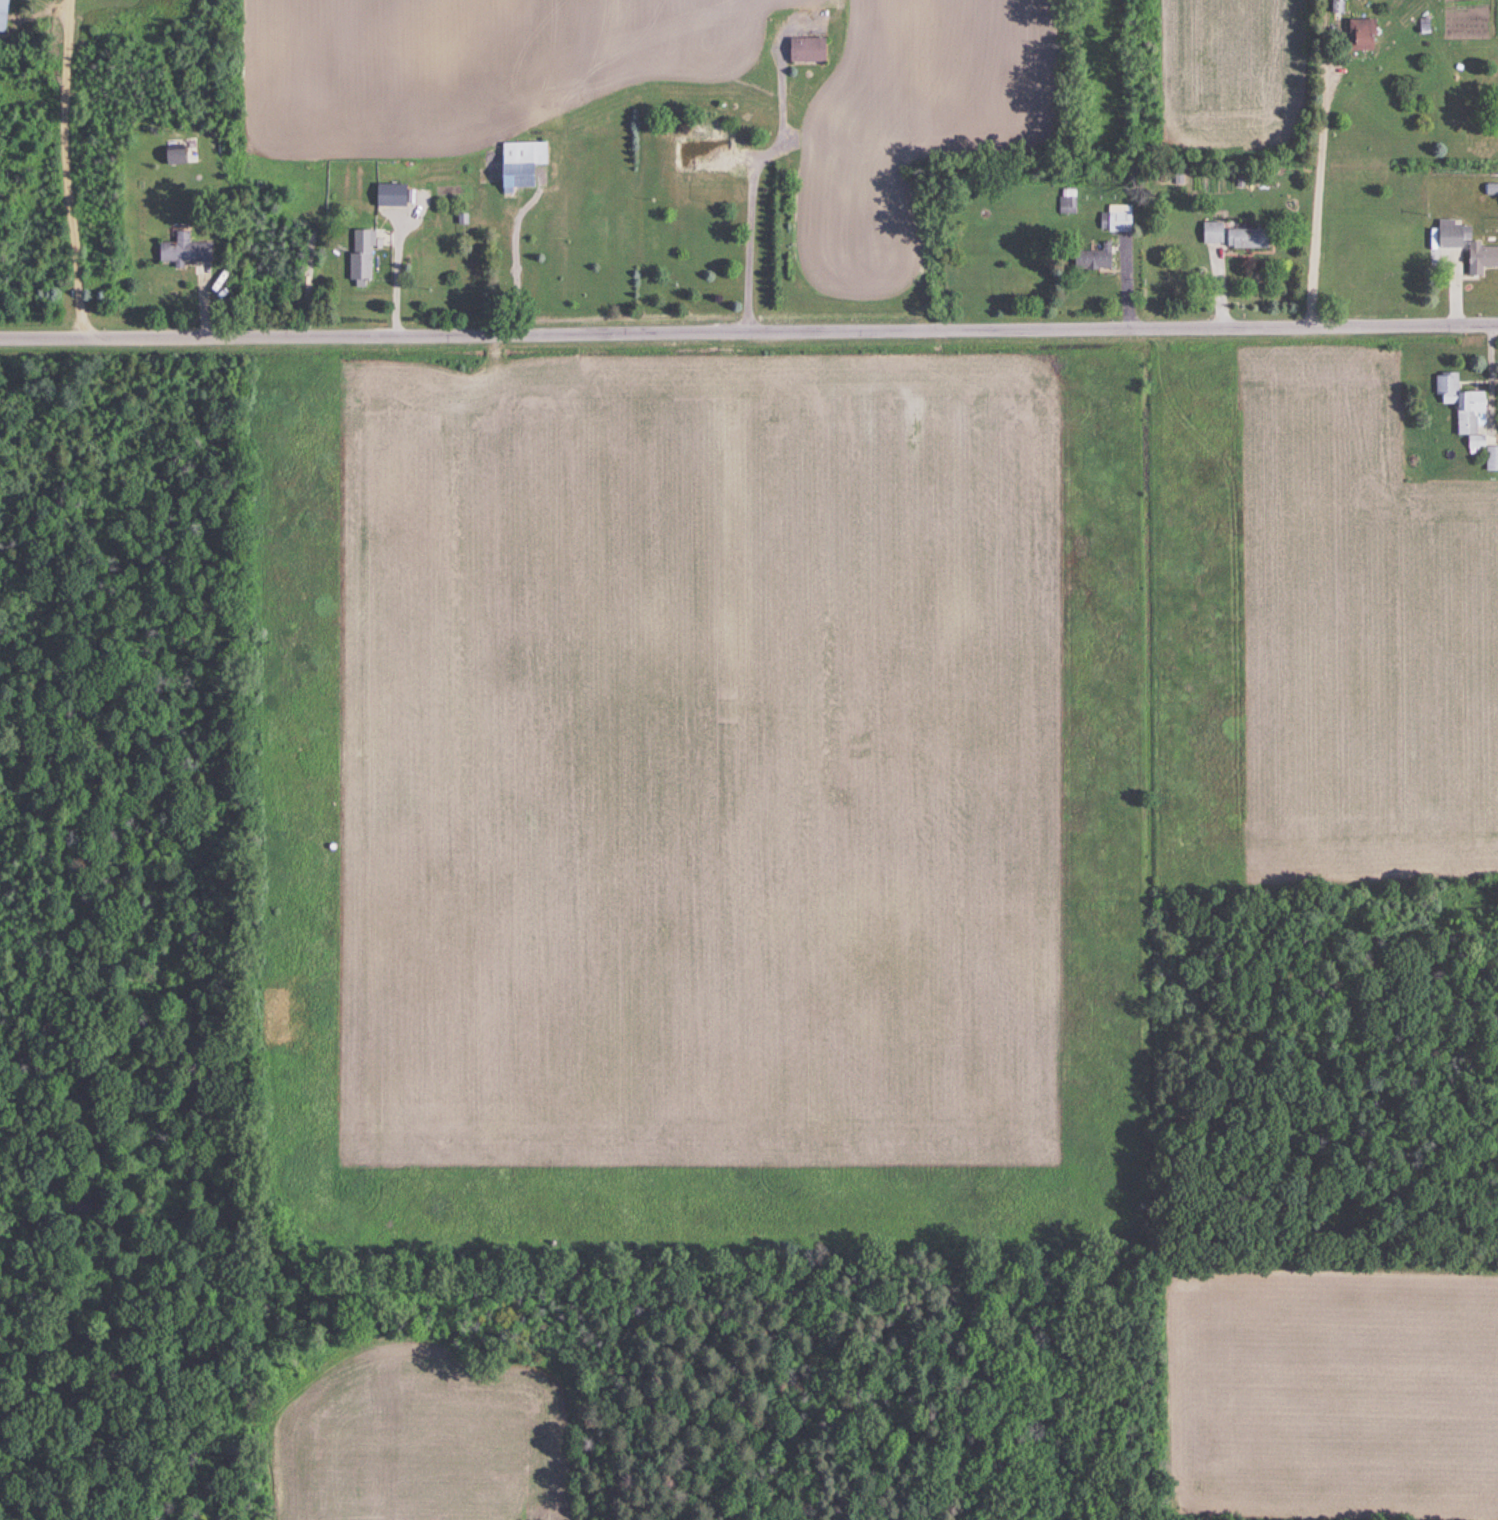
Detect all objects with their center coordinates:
building: (2, 14)
building: (1359, 34)
building: (806, 49)
building: (700, 152)
building: (522, 164)
road: (57, 167)
building: (390, 194)
road: (1312, 198)
building: (1067, 201)
building: (1118, 218)
building: (1210, 232)
building: (1246, 237)
road: (744, 241)
building: (1465, 246)
building: (183, 249)
building: (359, 254)
building: (1092, 258)
road: (377, 266)
road: (749, 329)
building: (1459, 401)
building: (1491, 457)

